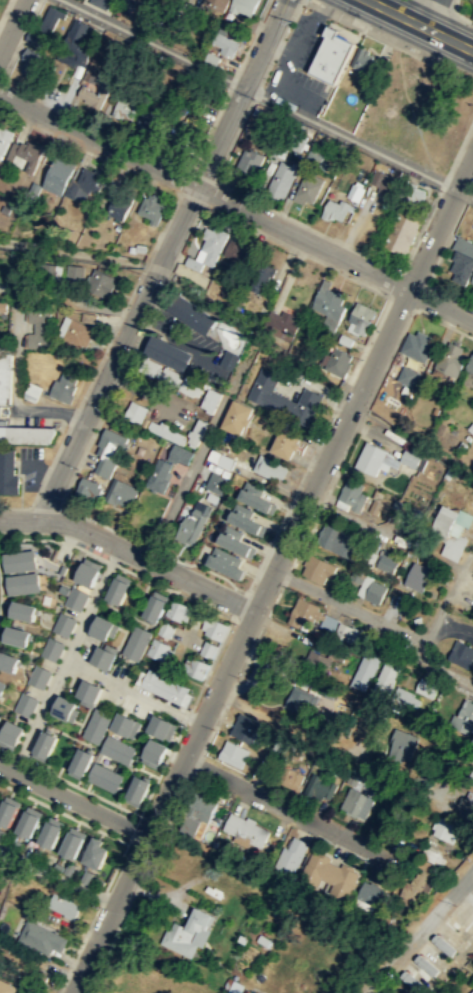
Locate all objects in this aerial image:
building: (101, 3)
building: (218, 3)
building: (126, 5)
building: (244, 5)
road: (443, 7)
road: (455, 7)
road: (419, 10)
road: (438, 14)
building: (51, 18)
road: (465, 18)
road: (421, 24)
road: (12, 26)
building: (80, 28)
building: (34, 38)
building: (226, 43)
street lamp: (412, 48)
building: (333, 54)
building: (74, 55)
building: (212, 57)
building: (362, 59)
building: (32, 60)
building: (91, 73)
building: (94, 93)
road: (259, 94)
building: (126, 108)
building: (152, 119)
building: (183, 132)
building: (4, 137)
building: (30, 153)
building: (249, 162)
road: (464, 170)
building: (59, 173)
building: (283, 178)
building: (85, 184)
building: (384, 184)
building: (309, 188)
building: (354, 191)
road: (464, 193)
building: (120, 204)
building: (152, 206)
road: (236, 207)
building: (334, 208)
building: (399, 230)
building: (208, 248)
building: (236, 250)
road: (160, 259)
building: (460, 266)
building: (76, 271)
building: (261, 275)
building: (471, 279)
building: (101, 284)
building: (328, 308)
building: (192, 316)
building: (88, 317)
building: (360, 317)
building: (38, 328)
building: (284, 328)
building: (74, 333)
building: (345, 339)
building: (417, 345)
building: (167, 355)
building: (449, 358)
building: (336, 361)
building: (470, 366)
building: (407, 375)
building: (6, 376)
building: (63, 388)
building: (189, 389)
road: (16, 393)
building: (284, 397)
road: (354, 400)
building: (208, 402)
building: (134, 413)
building: (236, 419)
building: (26, 433)
building: (180, 434)
street lamp: (324, 437)
building: (288, 440)
building: (107, 454)
building: (178, 456)
building: (409, 457)
building: (370, 458)
building: (219, 459)
building: (270, 467)
building: (7, 473)
building: (158, 476)
building: (215, 483)
building: (85, 489)
building: (349, 490)
building: (120, 494)
building: (257, 500)
road: (354, 518)
building: (246, 522)
building: (191, 526)
building: (450, 533)
building: (328, 535)
building: (234, 542)
building: (350, 546)
road: (130, 551)
road: (436, 559)
building: (19, 560)
building: (387, 560)
building: (227, 561)
building: (317, 568)
building: (88, 573)
building: (417, 576)
building: (22, 583)
building: (119, 589)
building: (374, 591)
building: (75, 598)
building: (156, 607)
building: (180, 610)
building: (20, 611)
building: (302, 611)
building: (327, 622)
street lamp: (235, 623)
building: (63, 624)
building: (103, 626)
building: (215, 626)
road: (396, 627)
building: (166, 628)
building: (347, 632)
building: (14, 636)
building: (137, 642)
building: (209, 648)
building: (52, 649)
building: (160, 649)
building: (335, 653)
building: (105, 656)
building: (461, 656)
road: (64, 657)
building: (316, 660)
building: (337, 661)
building: (8, 662)
building: (196, 666)
building: (363, 670)
building: (38, 677)
building: (382, 681)
building: (164, 686)
building: (1, 687)
building: (425, 687)
road: (132, 690)
building: (87, 692)
building: (399, 698)
building: (296, 701)
building: (24, 704)
building: (63, 709)
building: (0, 717)
building: (464, 719)
building: (125, 726)
building: (96, 727)
building: (161, 727)
building: (244, 727)
building: (10, 735)
building: (403, 741)
building: (43, 746)
building: (117, 750)
building: (153, 753)
building: (232, 753)
building: (80, 763)
building: (105, 777)
building: (472, 777)
building: (289, 778)
building: (318, 786)
building: (137, 790)
building: (0, 795)
road: (72, 798)
road: (161, 802)
building: (355, 803)
building: (465, 804)
building: (201, 806)
road: (282, 806)
building: (8, 813)
building: (29, 823)
building: (189, 826)
building: (244, 830)
building: (443, 830)
building: (51, 834)
building: (2, 835)
building: (73, 844)
building: (97, 853)
building: (290, 855)
building: (68, 868)
building: (421, 874)
building: (328, 875)
building: (85, 877)
road: (467, 885)
building: (368, 896)
building: (63, 905)
road: (418, 929)
building: (188, 934)
building: (41, 939)
building: (38, 976)
building: (7, 987)
building: (235, 988)
building: (471, 991)

